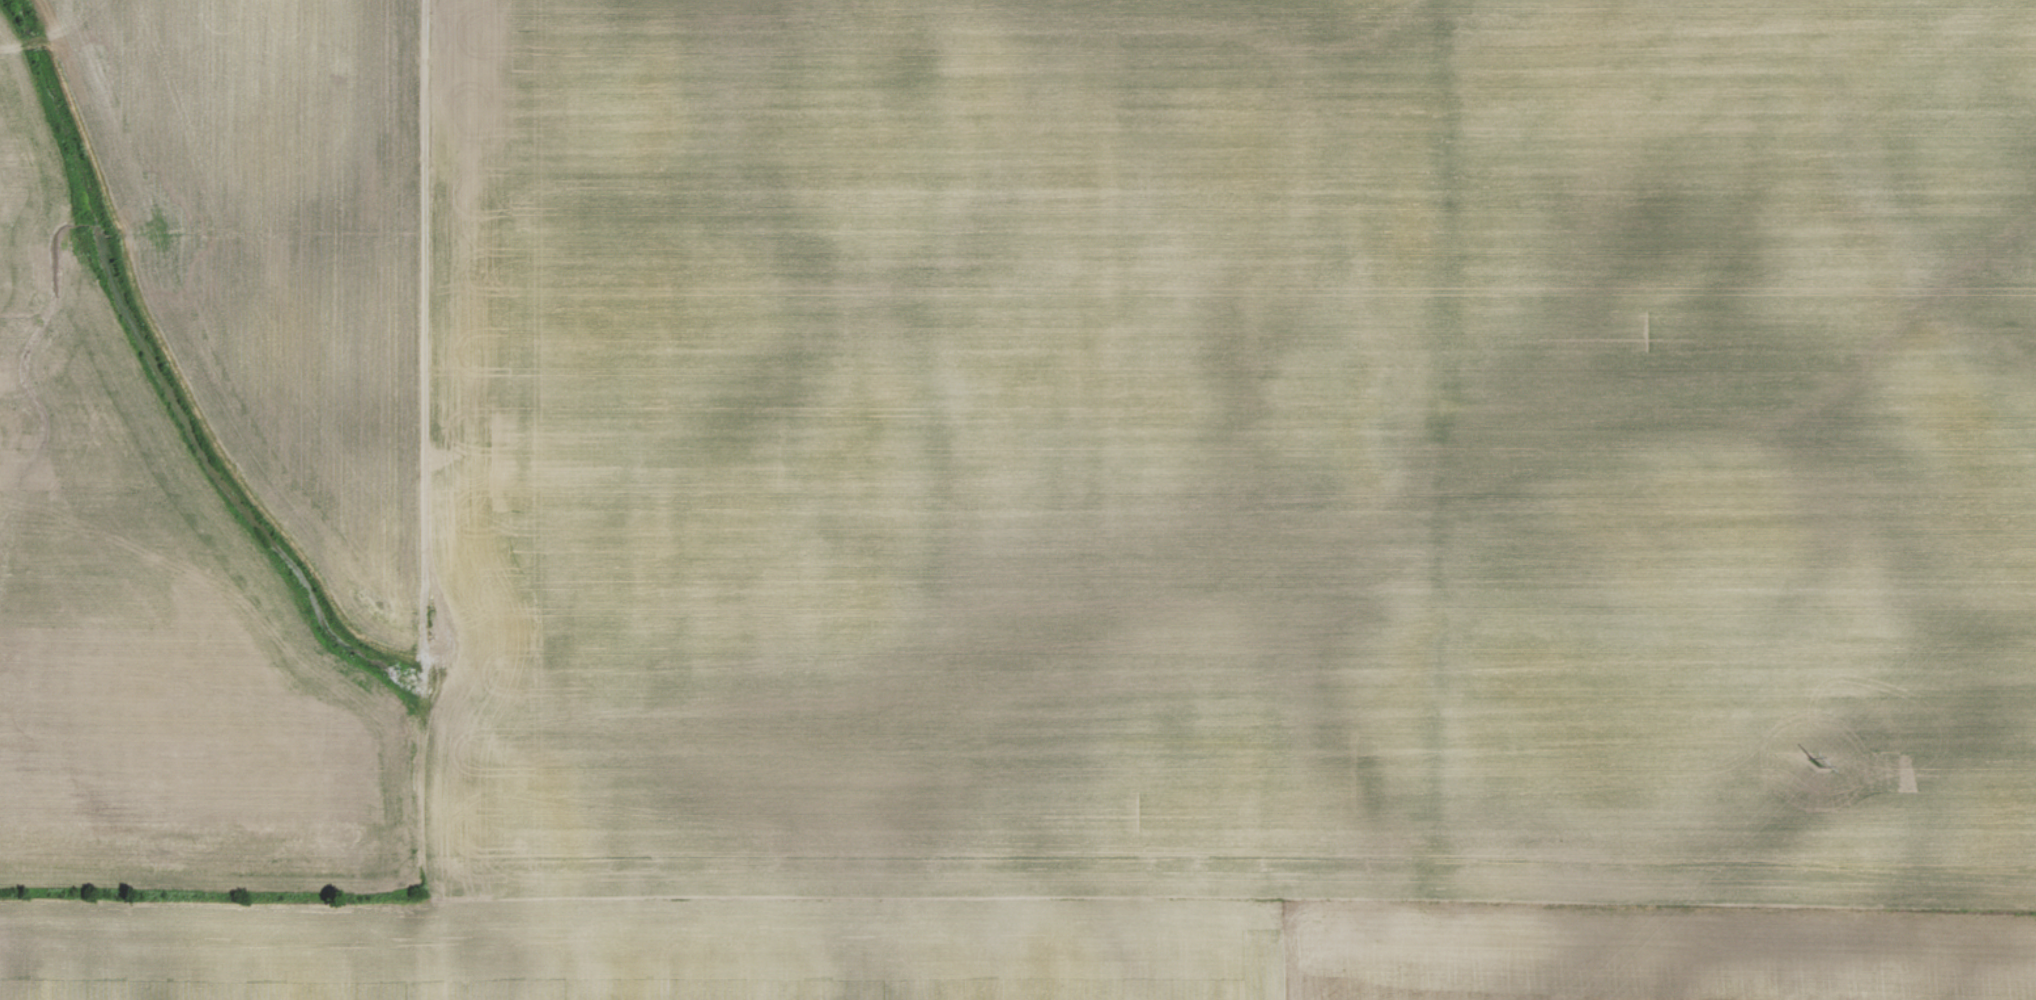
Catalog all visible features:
power tower: (1813, 760)

